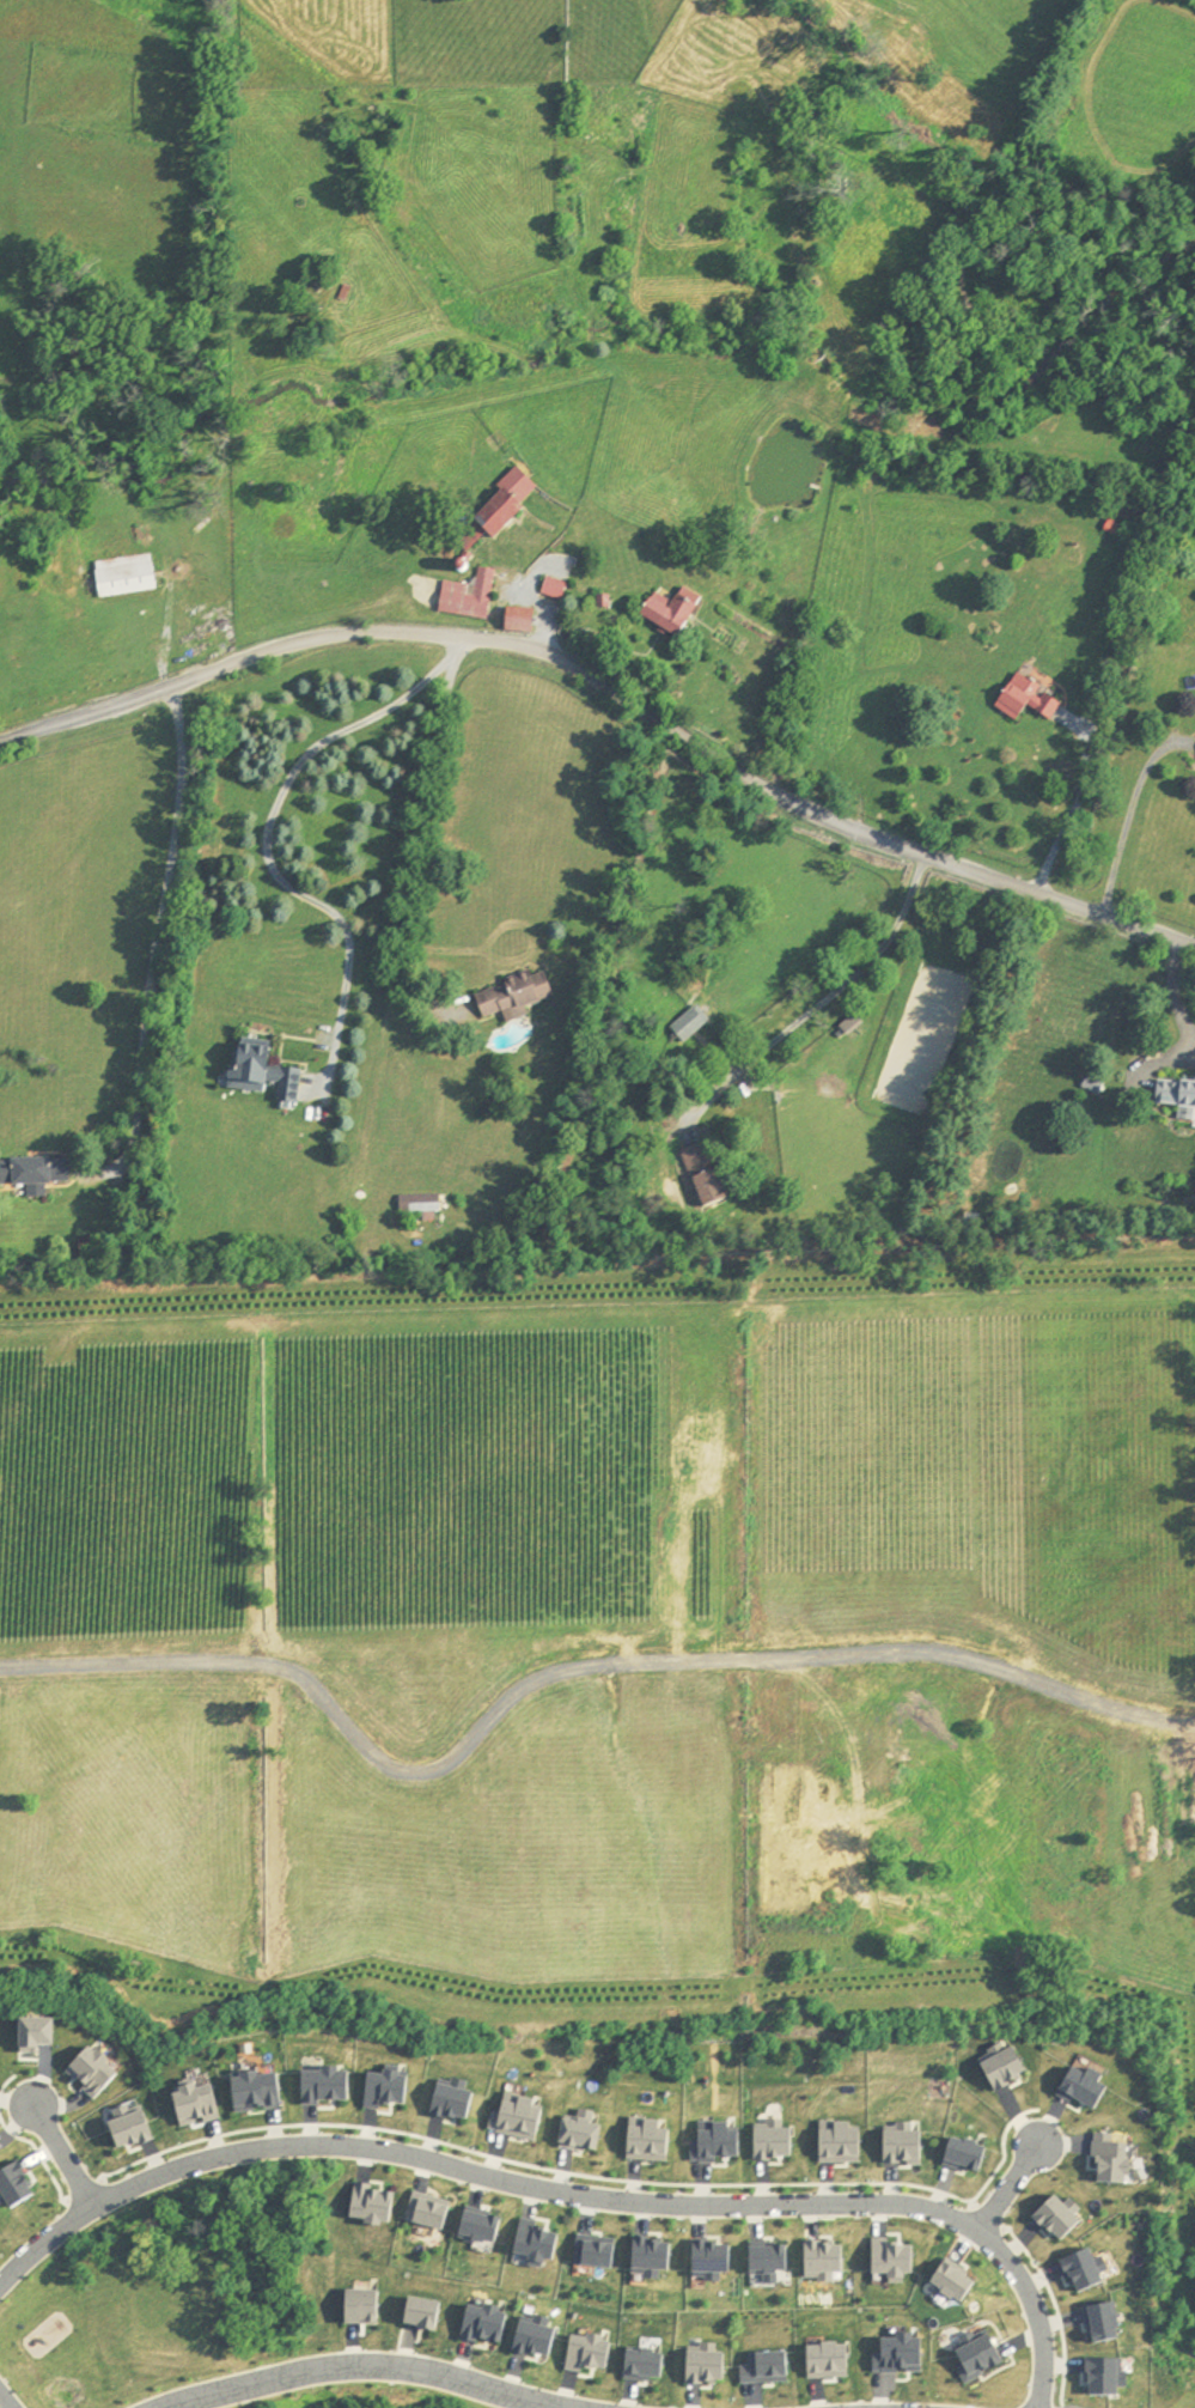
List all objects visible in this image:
building: (502, 513)
building: (1117, 529)
building: (127, 577)
building: (557, 589)
building: (471, 597)
building: (677, 613)
building: (523, 621)
road: (612, 689)
building: (1023, 698)
road: (1074, 807)
road: (1126, 821)
road: (264, 843)
road: (427, 869)
road: (161, 910)
road: (1176, 991)
road: (828, 995)
building: (517, 997)
building: (691, 1024)
building: (262, 1070)
building: (1179, 1100)
building: (705, 1173)
building: (35, 1174)
building: (408, 1205)
road: (559, 1667)
road: (6, 2085)
road: (37, 2147)
road: (65, 2153)
road: (593, 2176)
road: (1008, 2184)
road: (83, 2189)
road: (569, 2195)
road: (988, 2213)
road: (1056, 2315)
road: (362, 2369)
road: (7, 2398)

